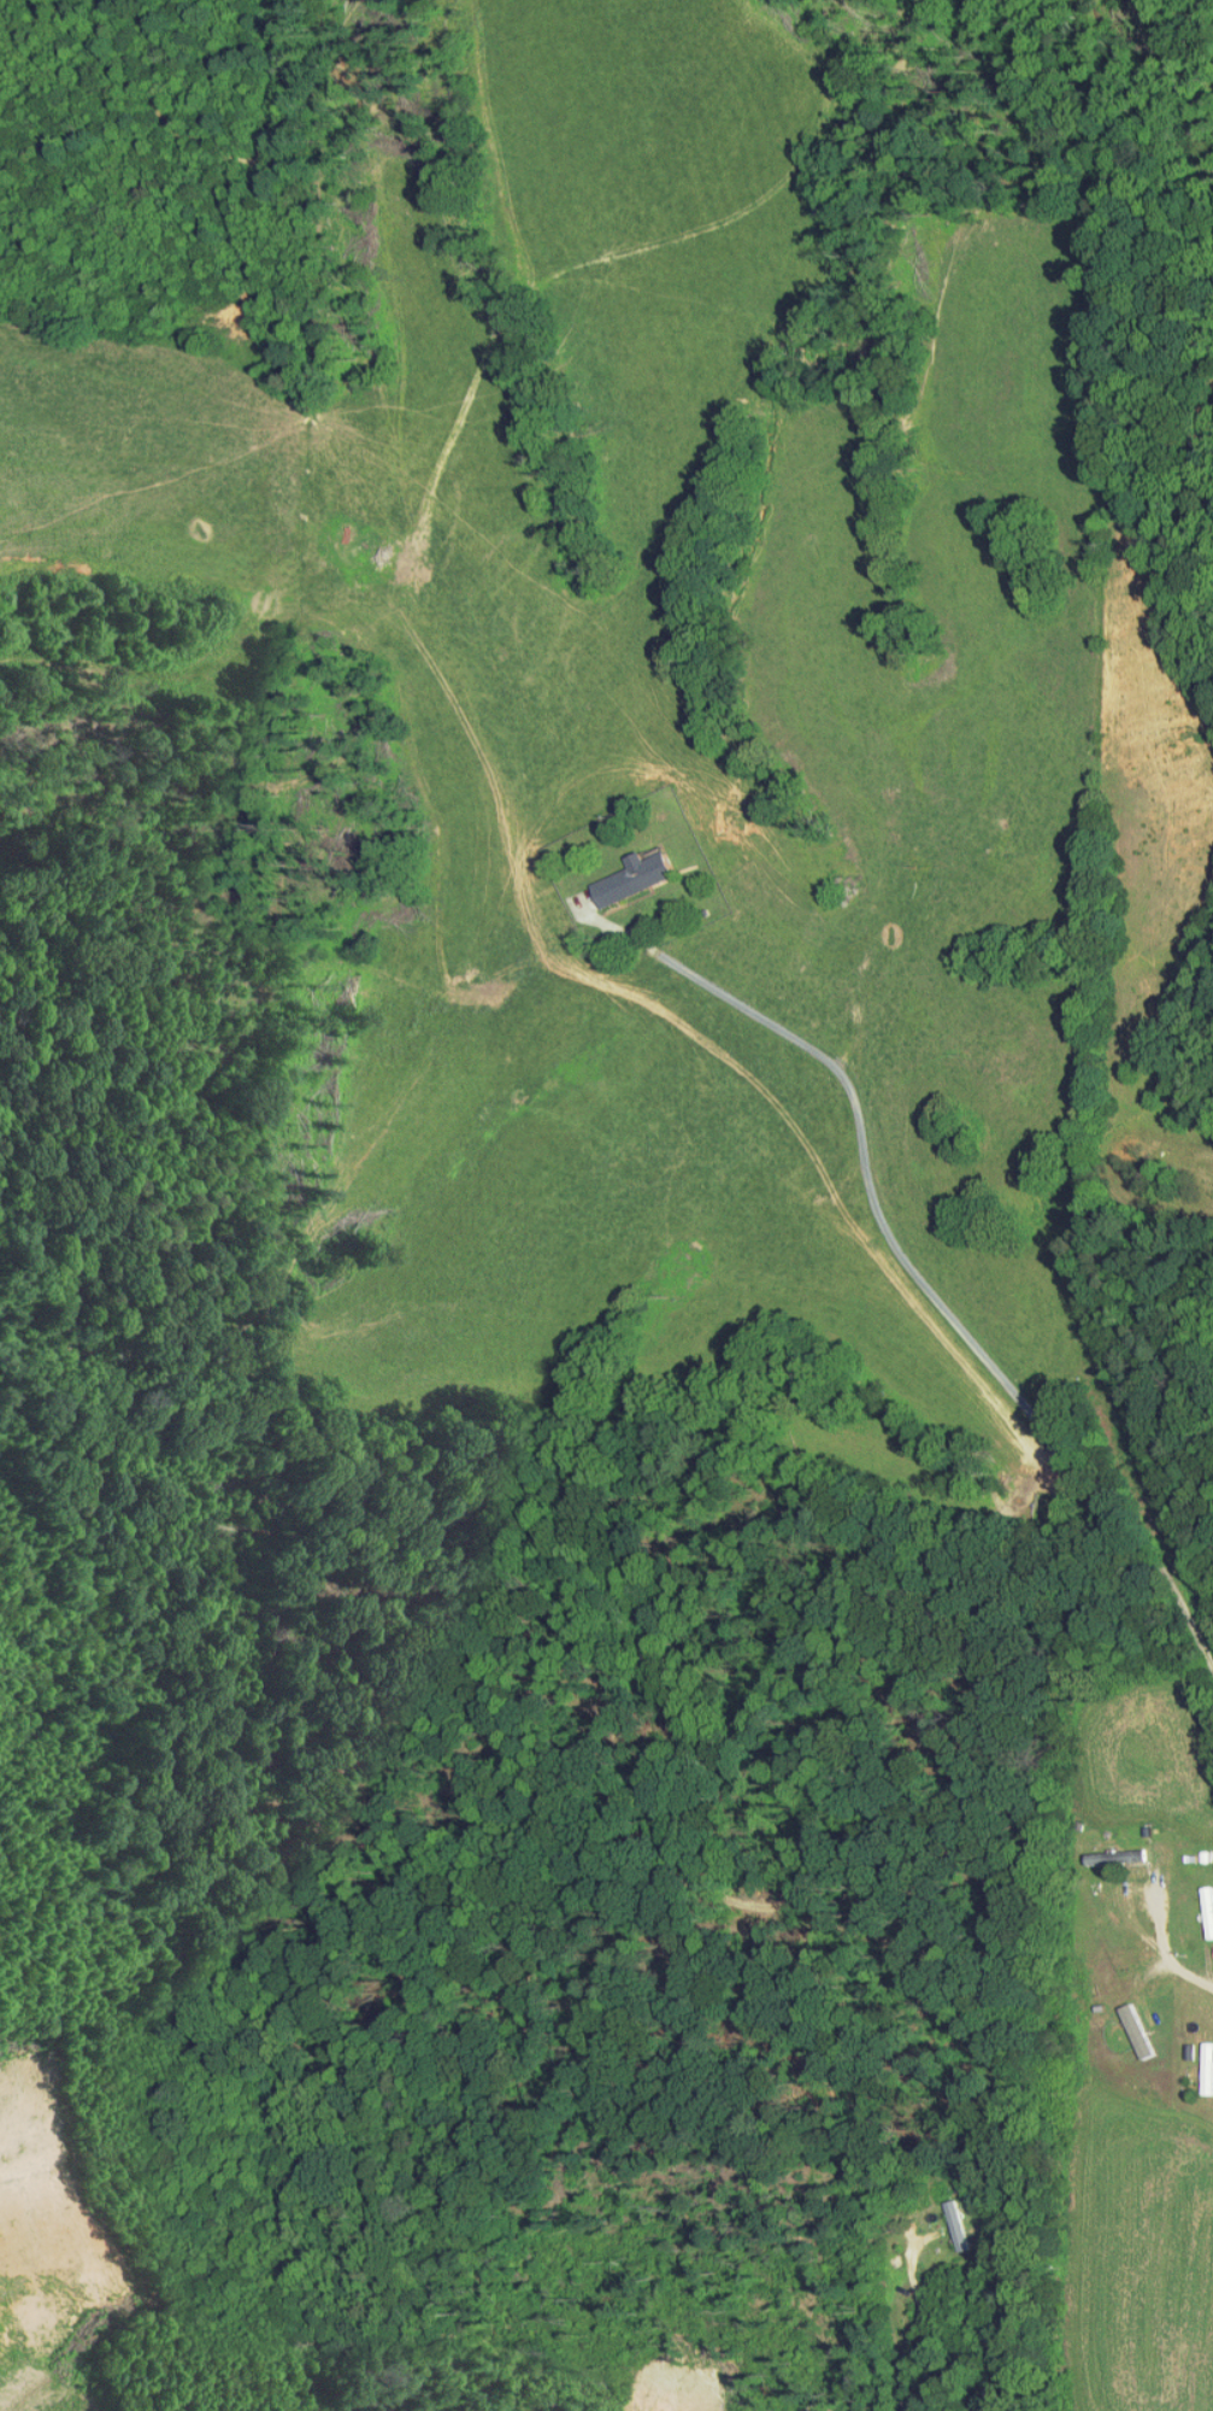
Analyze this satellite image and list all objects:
building: (620, 869)
road: (934, 1295)
building: (1199, 1906)
road: (1165, 1947)
building: (1126, 2023)
building: (1197, 2049)
building: (944, 2218)
road: (919, 2317)

